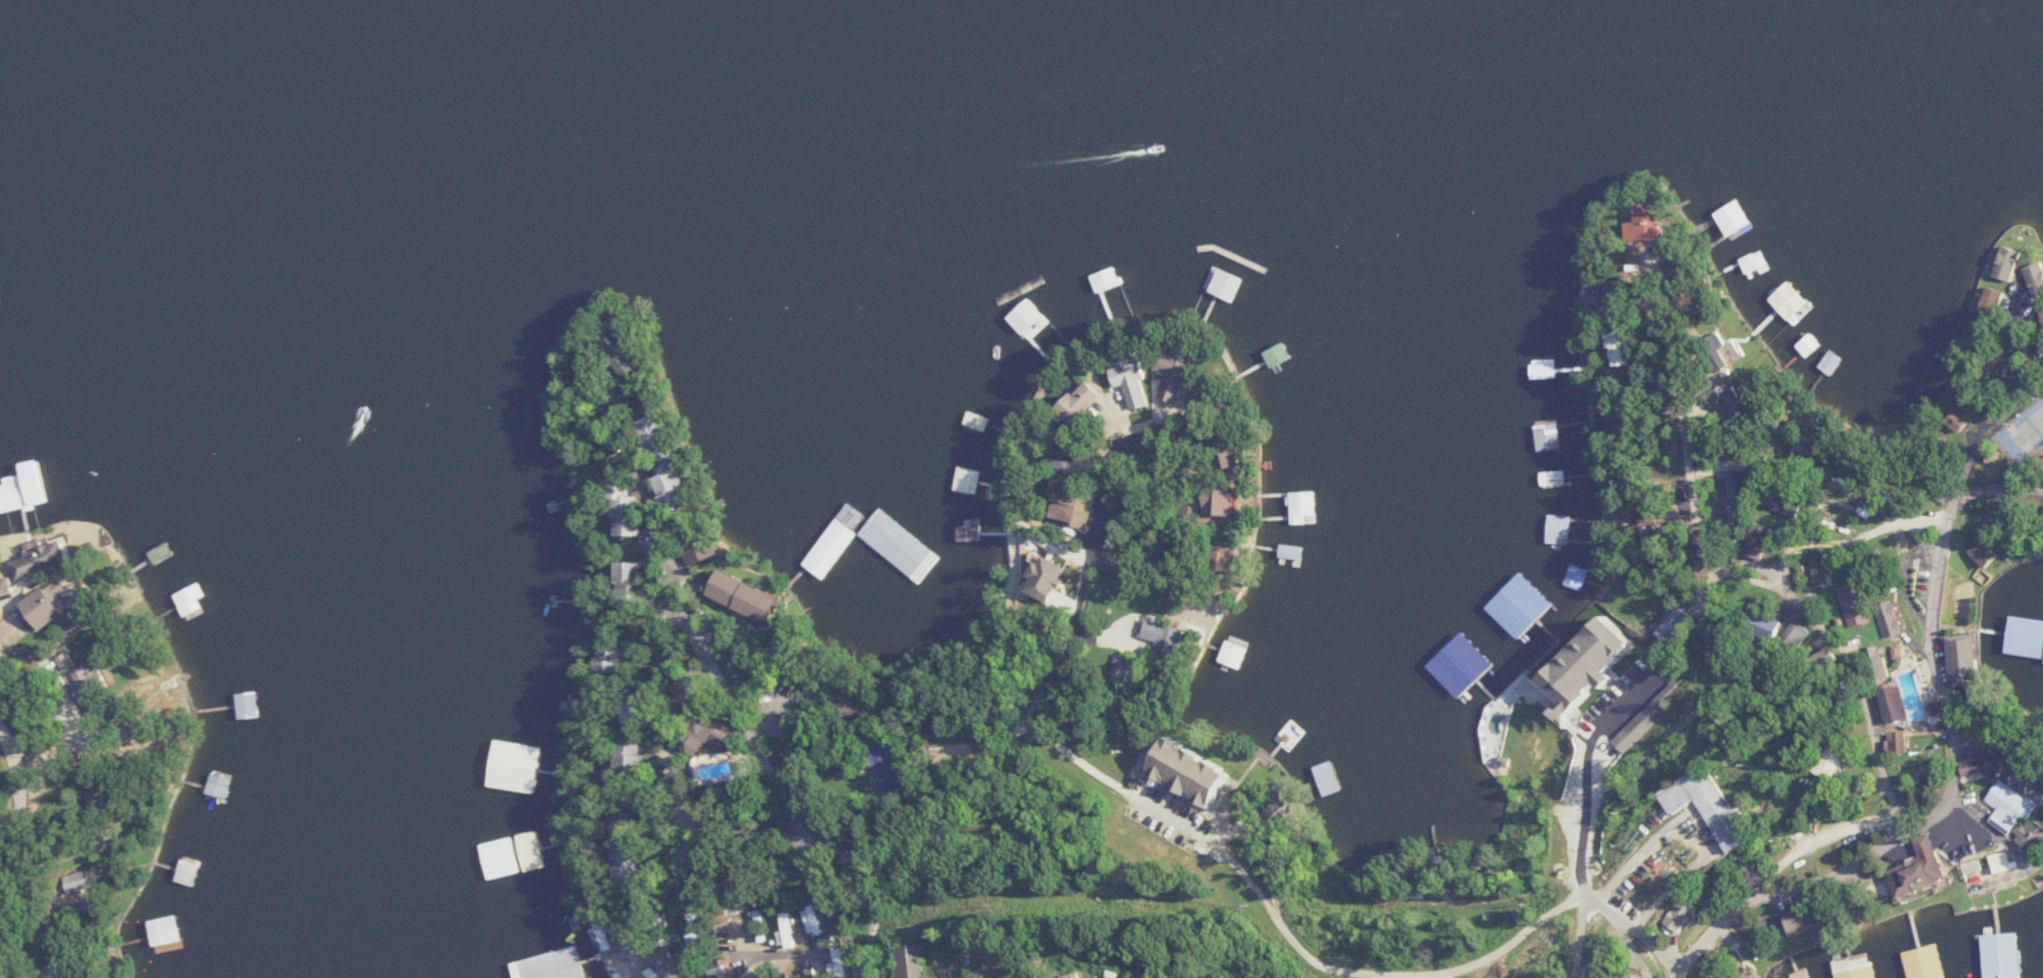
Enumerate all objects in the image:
building: (1733, 217)
building: (1755, 260)
building: (2004, 262)
building: (1097, 279)
building: (1230, 296)
building: (1989, 301)
building: (1780, 305)
building: (2042, 308)
building: (1538, 311)
building: (1025, 337)
building: (1807, 344)
building: (1709, 353)
building: (1277, 355)
building: (1830, 362)
building: (1543, 370)
building: (1137, 382)
building: (1176, 382)
building: (1089, 399)
building: (978, 419)
building: (658, 433)
building: (1548, 436)
building: (1555, 473)
road: (1689, 479)
building: (968, 480)
building: (679, 490)
road: (2000, 491)
building: (1729, 494)
building: (17, 495)
building: (631, 497)
building: (1226, 499)
building: (1303, 506)
building: (1086, 509)
building: (17, 523)
road: (1176, 525)
building: (1560, 528)
road: (1798, 535)
building: (874, 540)
building: (1755, 541)
building: (1290, 550)
building: (1977, 550)
building: (704, 556)
building: (45, 559)
building: (1577, 576)
building: (638, 578)
building: (194, 600)
building: (1851, 603)
building: (58, 605)
building: (1522, 605)
building: (1675, 623)
building: (2024, 632)
building: (1789, 633)
building: (1166, 636)
building: (1958, 657)
building: (1873, 662)
building: (1608, 664)
road: (1846, 666)
building: (1237, 667)
road: (732, 693)
building: (1887, 703)
building: (248, 705)
building: (1894, 741)
road: (1005, 754)
building: (641, 758)
building: (1820, 762)
building: (1979, 765)
building: (1202, 770)
road: (1583, 777)
road: (676, 783)
building: (218, 785)
building: (1431, 795)
building: (1717, 805)
building: (2006, 806)
road: (1945, 813)
building: (1640, 840)
road: (1209, 843)
road: (15, 845)
building: (516, 857)
building: (188, 871)
building: (1921, 876)
building: (1684, 915)
building: (786, 931)
building: (165, 932)
road: (1635, 934)
road: (1583, 940)
road: (1505, 944)
road: (863, 949)
road: (646, 953)
road: (747, 953)
building: (2001, 955)
building: (910, 961)
building: (1927, 961)
building: (838, 962)
building: (555, 964)
building: (1852, 966)
building: (1096, 976)
road: (1428, 976)
building: (1643, 976)
building: (1747, 977)

